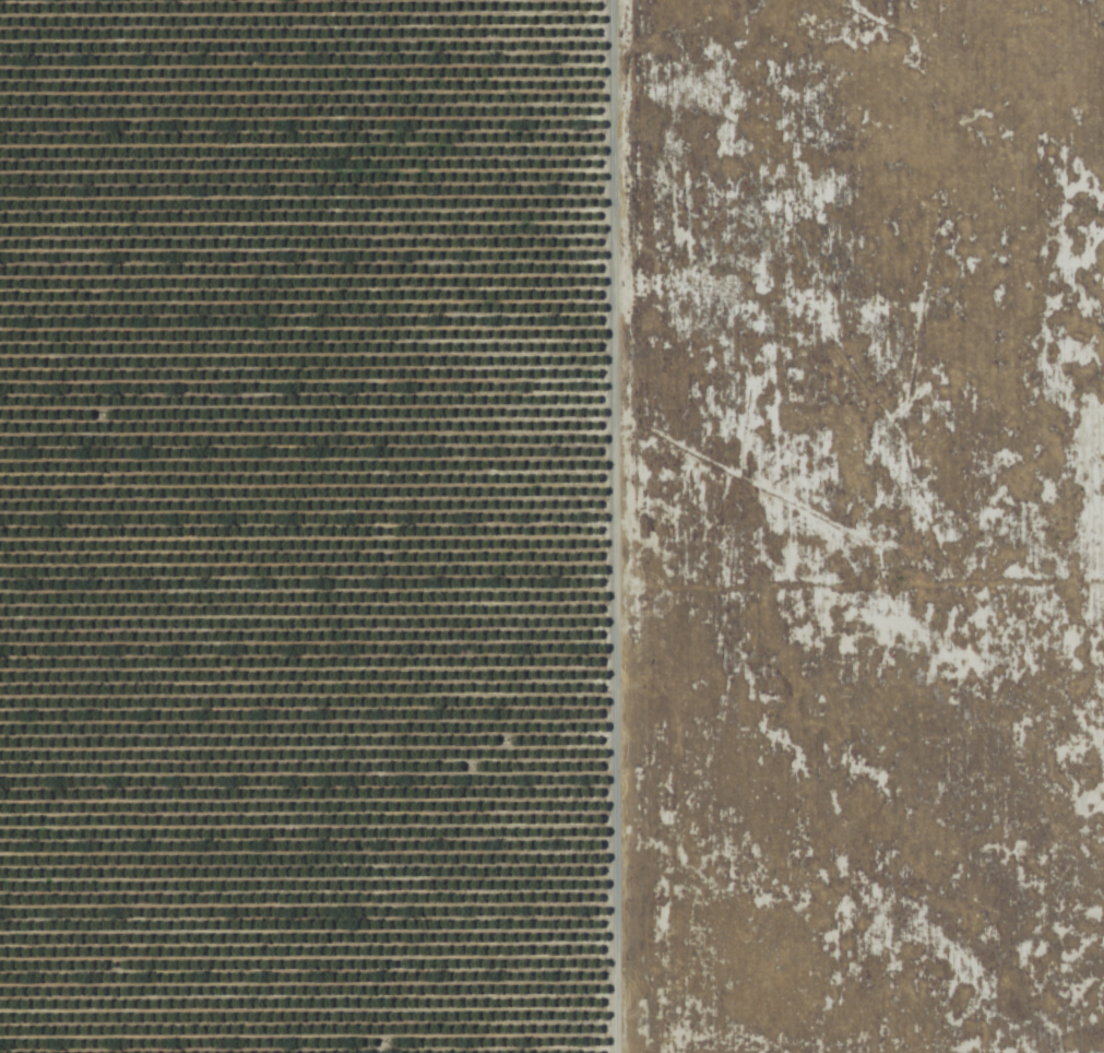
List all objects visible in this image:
crop: (307, 525)

